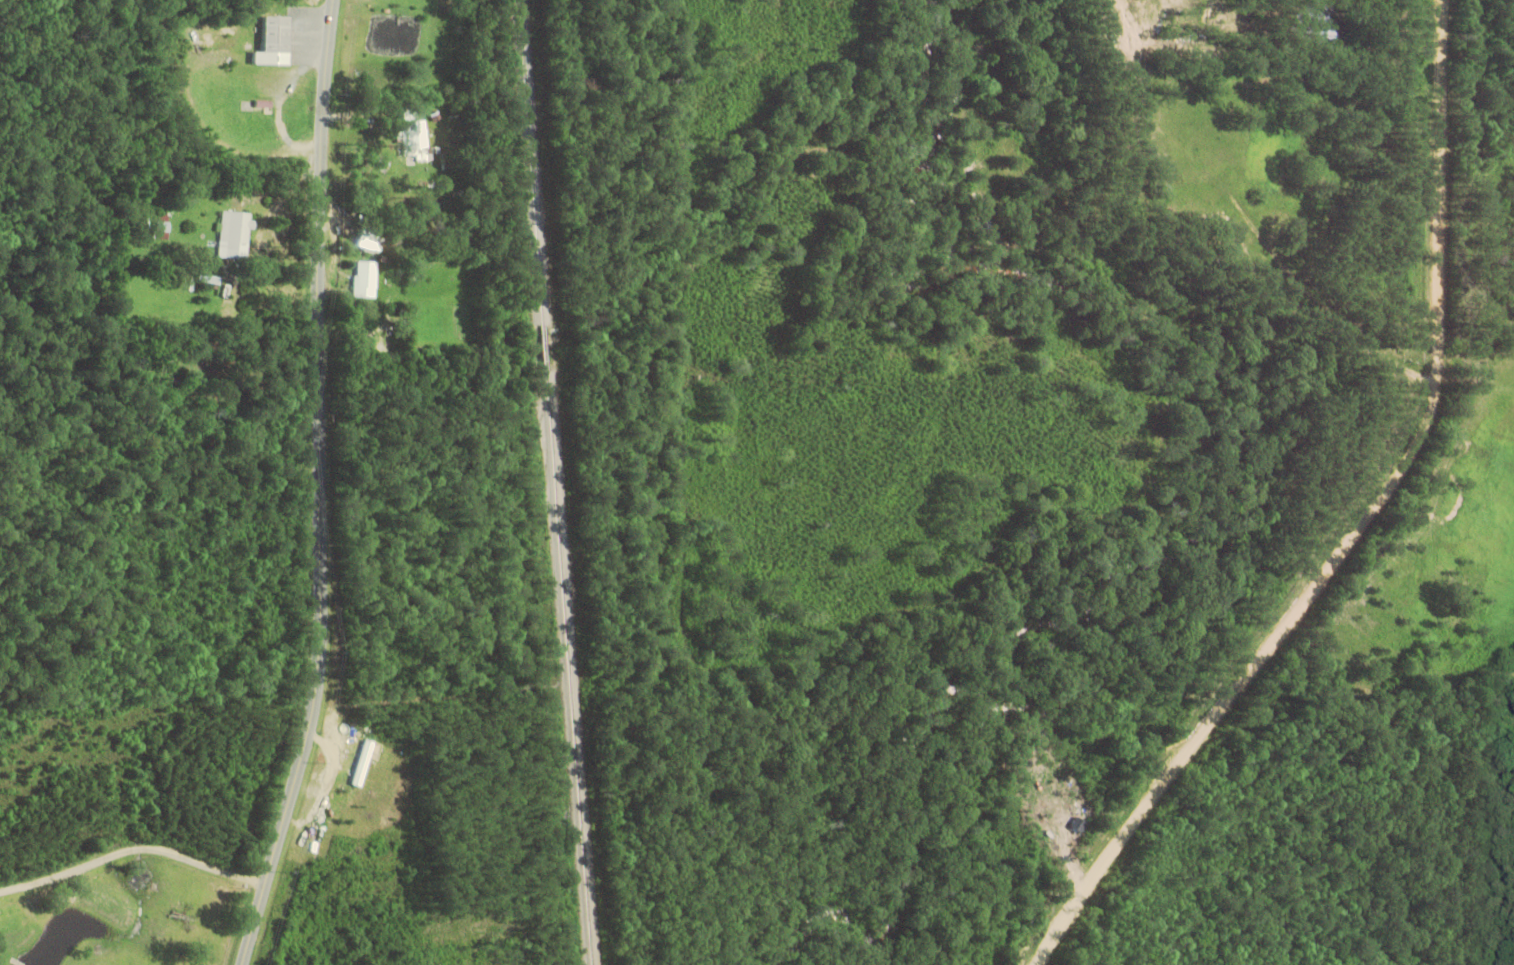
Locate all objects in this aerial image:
building: (278, 41)
building: (419, 140)
building: (1275, 223)
building: (236, 234)
building: (372, 241)
building: (365, 278)
building: (1443, 470)
railway: (561, 482)
road: (321, 487)
river: (1208, 526)
road: (1375, 527)
building: (366, 762)

